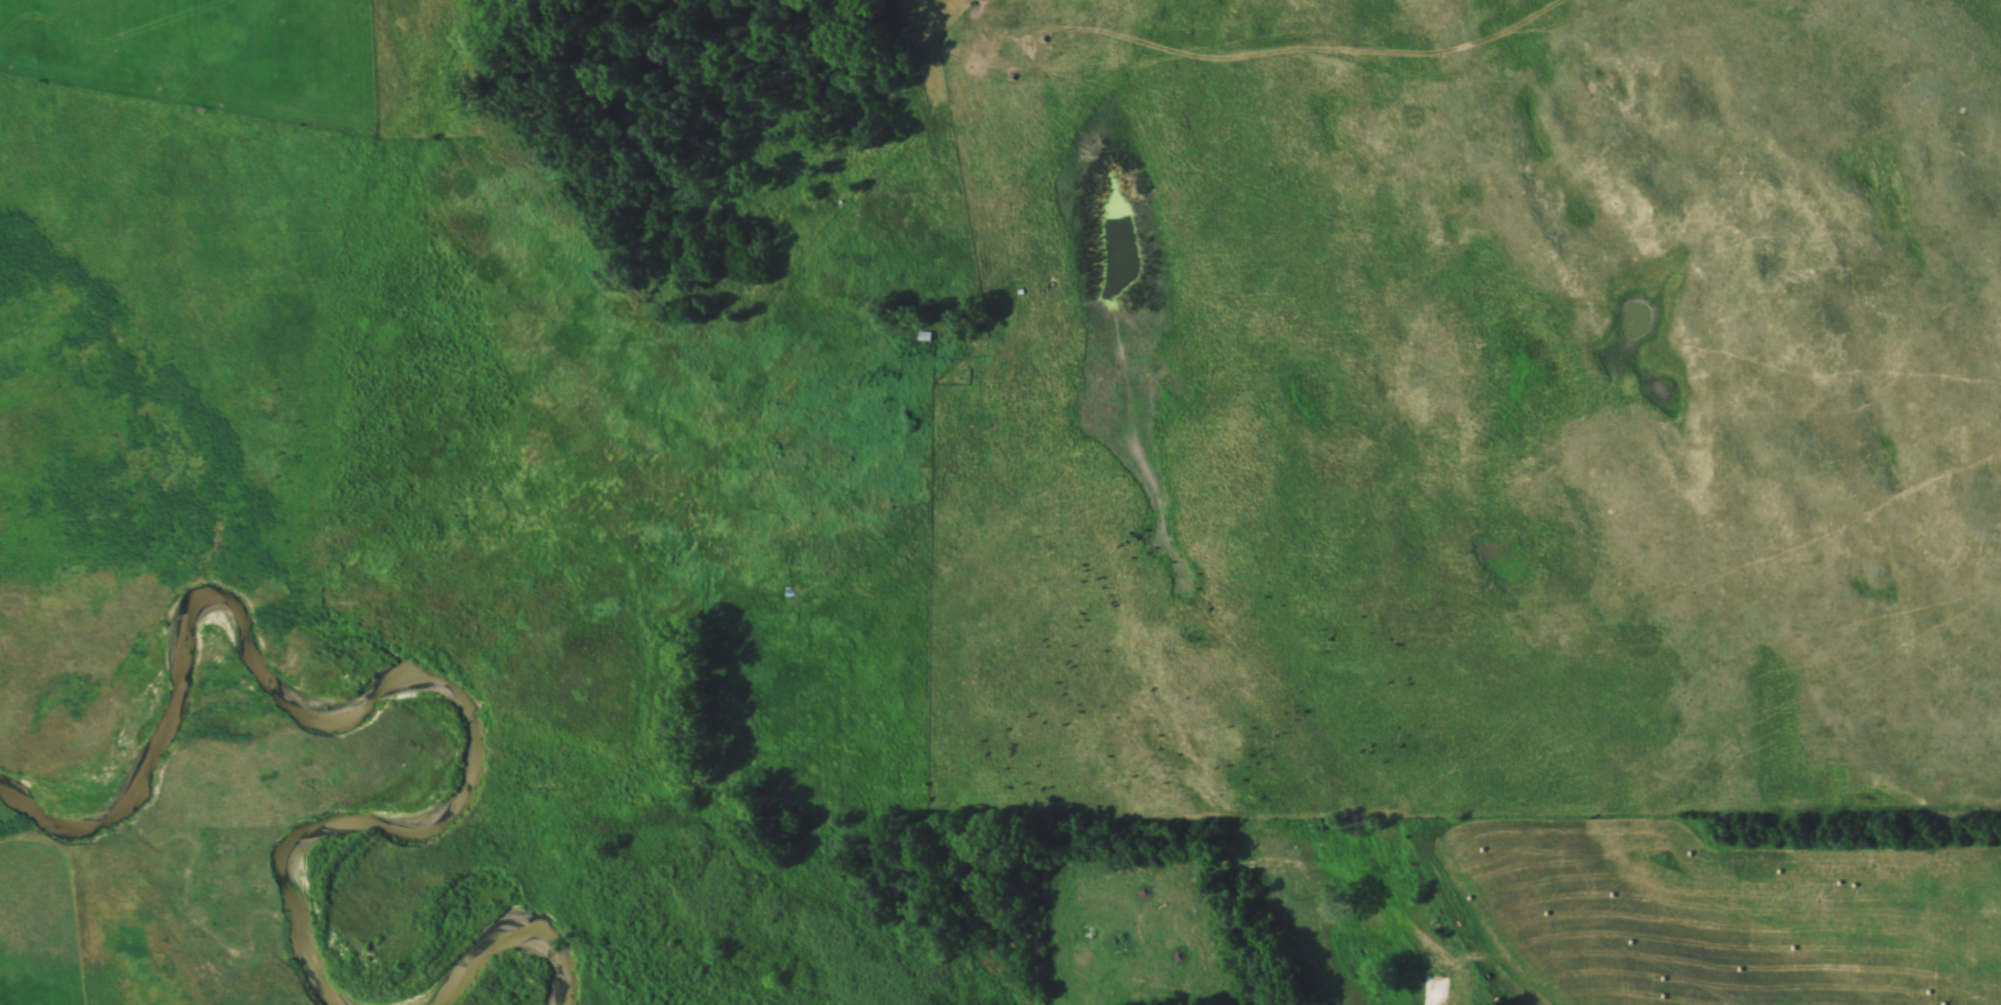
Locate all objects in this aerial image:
road: (1275, 41)
building: (922, 336)
river: (460, 740)

